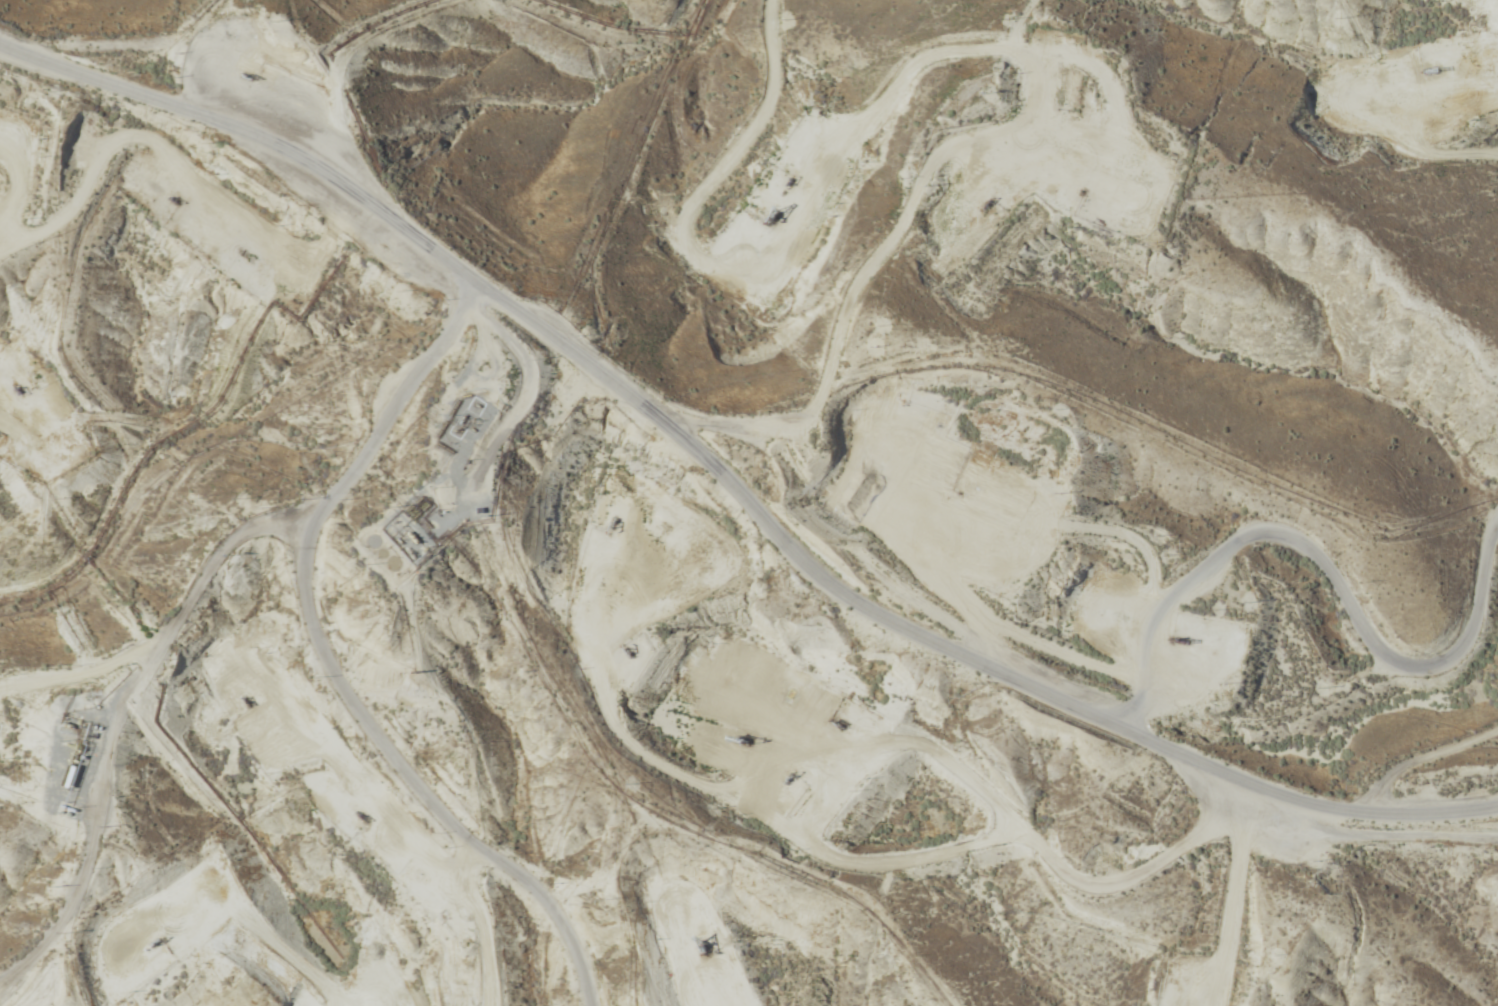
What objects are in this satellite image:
road: (728, 483)
road: (1223, 607)
road: (332, 658)
road: (153, 756)
road: (1384, 836)

